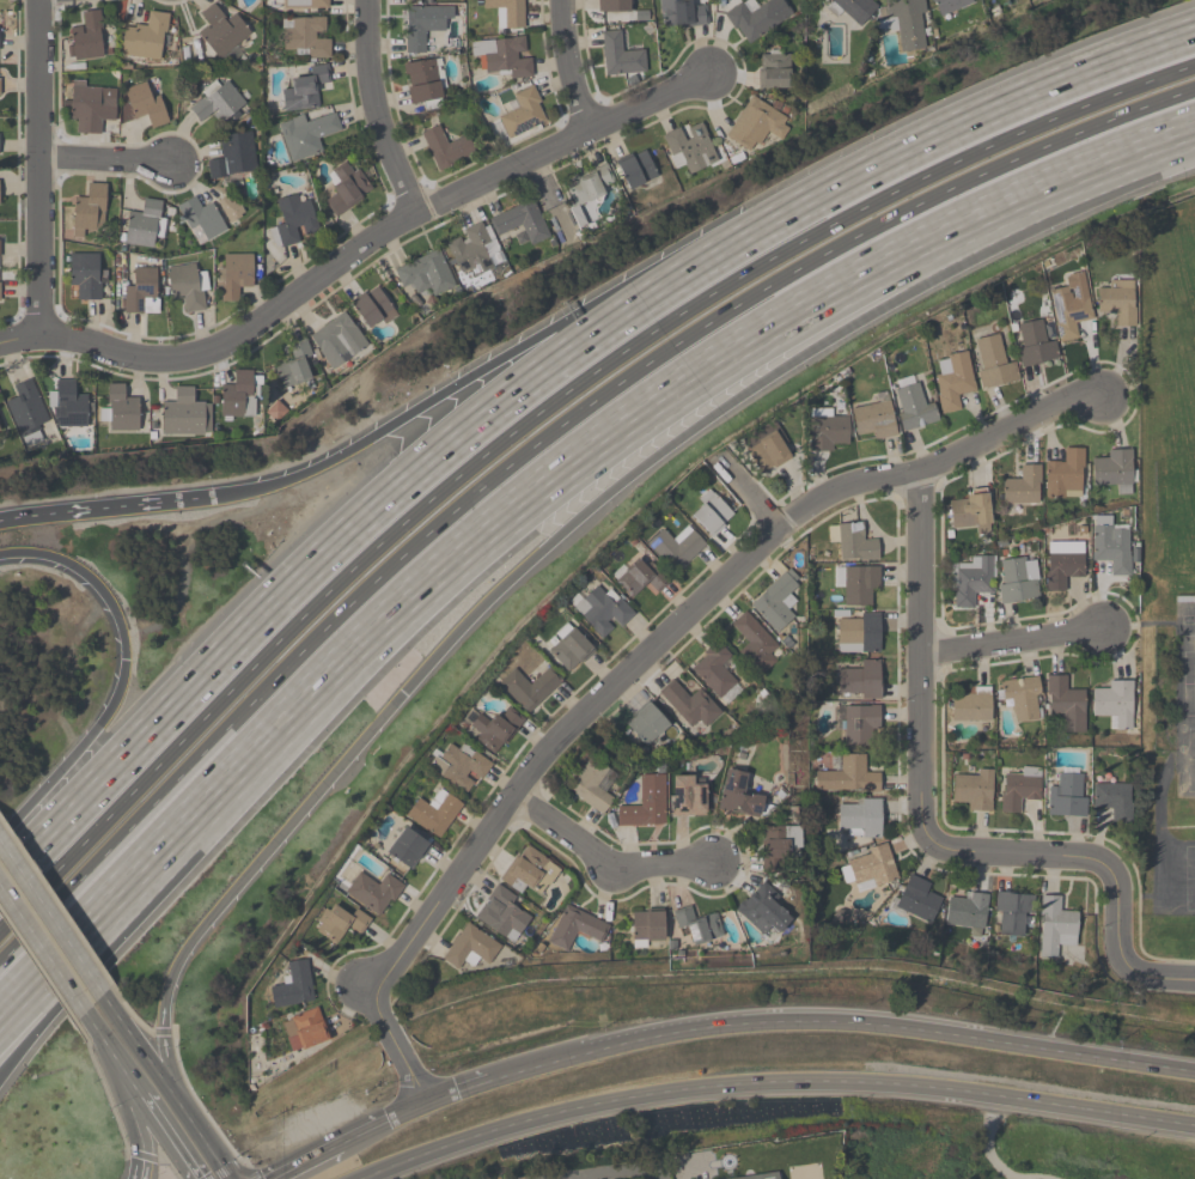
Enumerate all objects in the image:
building: (305, 4)
building: (950, 5)
building: (614, 6)
building: (855, 8)
building: (507, 12)
building: (682, 13)
building: (757, 18)
building: (423, 24)
building: (908, 25)
building: (221, 30)
building: (85, 37)
building: (146, 37)
building: (306, 37)
building: (620, 54)
building: (502, 56)
road: (573, 65)
building: (775, 71)
building: (423, 81)
building: (0, 86)
building: (304, 90)
building: (218, 102)
building: (145, 104)
building: (92, 105)
road: (374, 109)
building: (523, 113)
building: (756, 124)
road: (952, 130)
building: (306, 134)
road: (1171, 136)
building: (690, 146)
building: (446, 148)
building: (233, 156)
road: (105, 160)
road: (38, 168)
building: (635, 170)
road: (1083, 170)
building: (346, 188)
building: (586, 188)
building: (230, 207)
building: (90, 212)
building: (201, 219)
building: (292, 219)
building: (520, 221)
building: (145, 223)
road: (356, 248)
building: (0, 249)
building: (469, 249)
building: (426, 273)
building: (234, 274)
building: (85, 278)
building: (188, 286)
building: (141, 292)
building: (1117, 303)
building: (372, 305)
building: (1071, 305)
building: (337, 340)
building: (1034, 344)
building: (992, 363)
building: (294, 365)
road: (467, 378)
building: (953, 381)
building: (238, 395)
building: (71, 405)
building: (913, 405)
building: (121, 409)
building: (26, 412)
building: (183, 413)
road: (538, 415)
building: (873, 419)
building: (825, 430)
road: (538, 442)
building: (767, 448)
building: (1112, 468)
road: (567, 469)
building: (1065, 475)
building: (1022, 486)
road: (200, 498)
road: (140, 505)
building: (711, 512)
building: (971, 512)
road: (47, 515)
building: (852, 541)
road: (339, 545)
building: (675, 547)
building: (1111, 547)
building: (1063, 565)
building: (642, 578)
building: (970, 579)
building: (1017, 581)
road: (506, 582)
building: (856, 583)
building: (776, 600)
building: (600, 610)
building: (858, 633)
road: (1013, 637)
building: (754, 643)
building: (569, 648)
road: (920, 648)
traffic signals: (124, 658)
road: (636, 661)
building: (715, 671)
road: (121, 676)
building: (860, 681)
building: (528, 687)
traffic signals: (403, 693)
building: (1023, 697)
building: (689, 703)
building: (1066, 703)
building: (1114, 704)
building: (970, 705)
building: (856, 722)
building: (646, 723)
building: (495, 729)
building: (461, 765)
building: (848, 776)
building: (592, 785)
building: (1019, 788)
building: (974, 790)
building: (689, 795)
building: (738, 795)
building: (1068, 795)
building: (1112, 801)
building: (644, 804)
building: (434, 813)
building: (859, 819)
building: (779, 845)
building: (408, 847)
road: (165, 849)
road: (1096, 862)
road: (605, 869)
building: (868, 869)
building: (529, 870)
building: (372, 891)
building: (917, 899)
building: (763, 911)
building: (968, 911)
building: (502, 913)
building: (1014, 913)
road: (50, 918)
building: (341, 923)
building: (697, 924)
building: (578, 926)
building: (647, 926)
building: (1056, 926)
road: (73, 943)
building: (471, 947)
road: (37, 966)
road: (73, 970)
road: (60, 978)
building: (293, 986)
road: (891, 1027)
building: (305, 1029)
road: (138, 1045)
road: (535, 1064)
road: (130, 1082)
road: (769, 1083)
road: (102, 1084)
road: (410, 1110)
road: (138, 1123)
road: (167, 1137)
road: (201, 1138)
road: (988, 1143)
road: (142, 1156)
road: (304, 1161)
road: (618, 1172)
building: (763, 1177)

